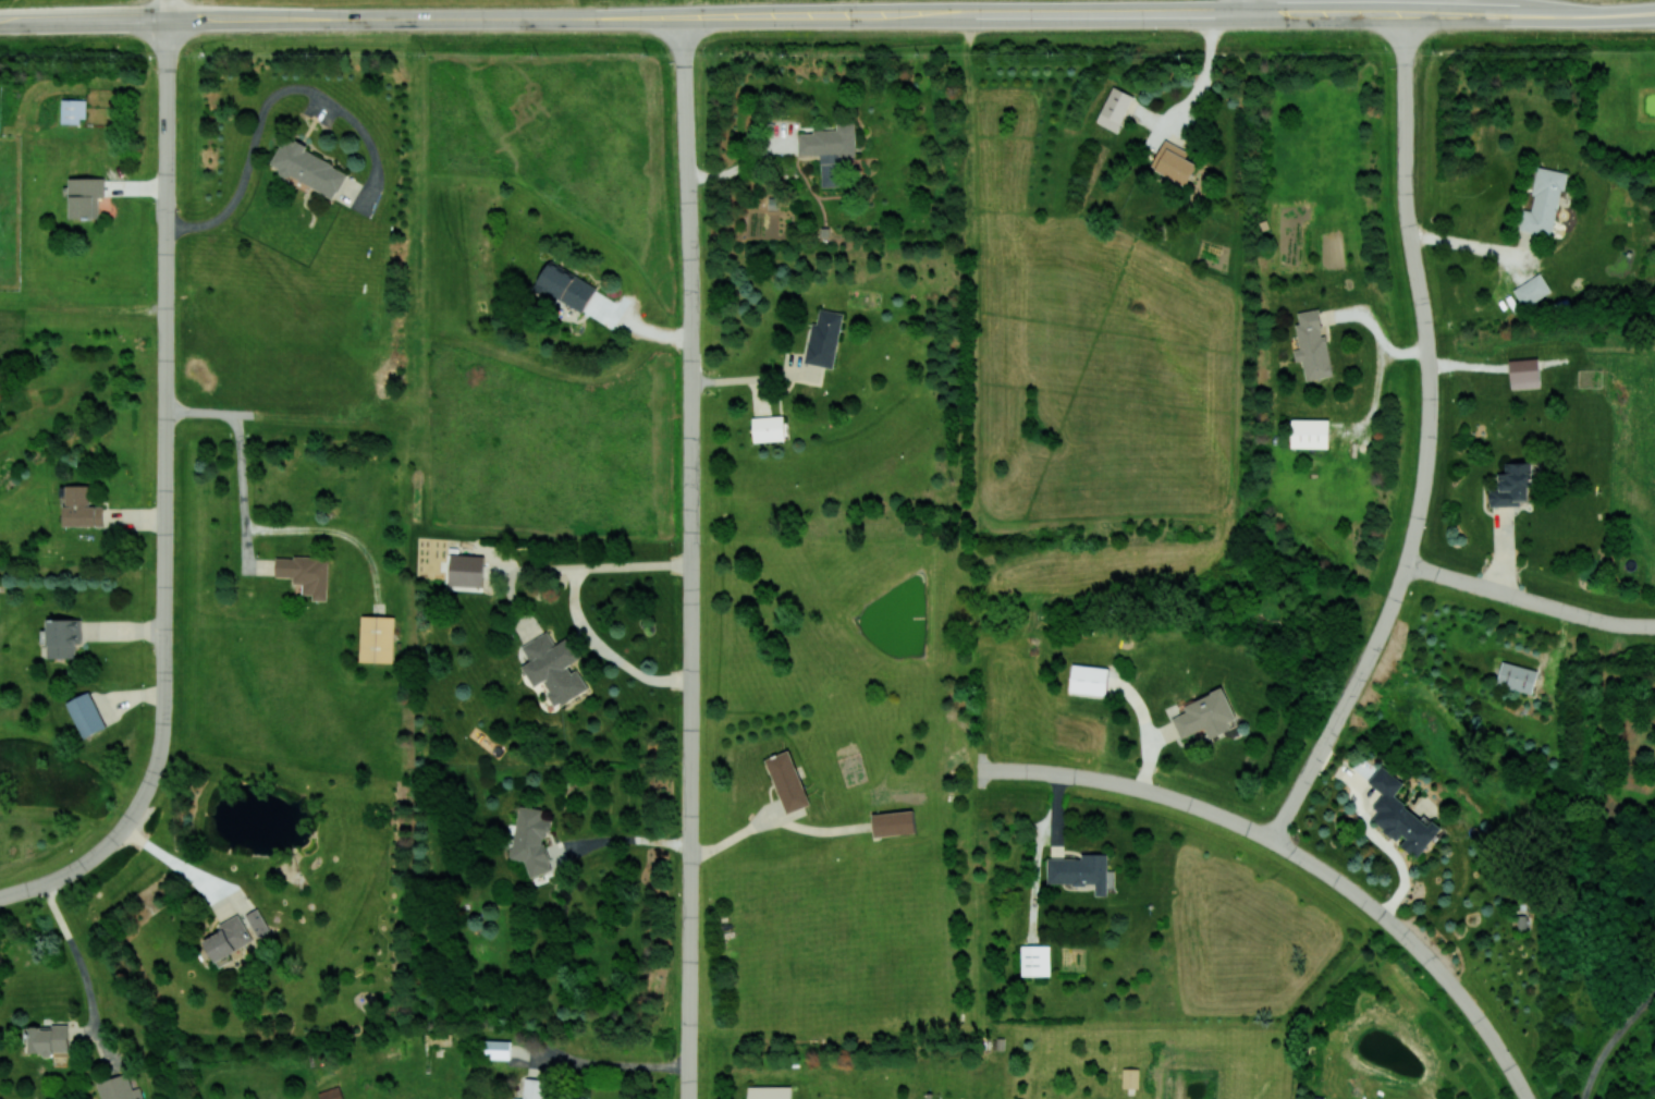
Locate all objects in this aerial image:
road: (1242, 7)
road: (167, 9)
road: (1107, 14)
road: (1448, 15)
road: (700, 16)
road: (203, 17)
road: (416, 17)
road: (1203, 81)
road: (271, 94)
building: (1114, 108)
building: (74, 110)
building: (829, 149)
building: (1174, 162)
road: (744, 166)
building: (309, 168)
building: (86, 196)
building: (1543, 203)
road: (167, 216)
road: (1481, 245)
road: (690, 277)
building: (565, 286)
building: (1531, 290)
road: (83, 298)
building: (597, 305)
road: (1376, 331)
building: (823, 338)
building: (1312, 344)
building: (1524, 373)
road: (755, 378)
road: (209, 415)
building: (768, 428)
building: (1310, 432)
road: (1427, 442)
building: (1511, 485)
road: (242, 489)
building: (81, 508)
building: (466, 570)
building: (305, 573)
road: (1529, 599)
road: (576, 608)
building: (63, 637)
building: (377, 638)
road: (164, 668)
building: (554, 668)
building: (1517, 676)
building: (1089, 679)
building: (86, 715)
building: (1205, 715)
building: (786, 781)
road: (689, 783)
road: (1128, 784)
building: (1399, 815)
road: (772, 820)
building: (894, 822)
building: (531, 838)
road: (622, 840)
road: (176, 864)
building: (1080, 871)
road: (29, 889)
building: (257, 921)
building: (228, 938)
road: (1420, 949)
road: (78, 957)
building: (1035, 960)
building: (48, 1039)
road: (1614, 1040)
building: (497, 1049)
road: (622, 1063)
road: (688, 1064)
building: (1130, 1077)
building: (119, 1088)
building: (770, 1091)
building: (331, 1094)

